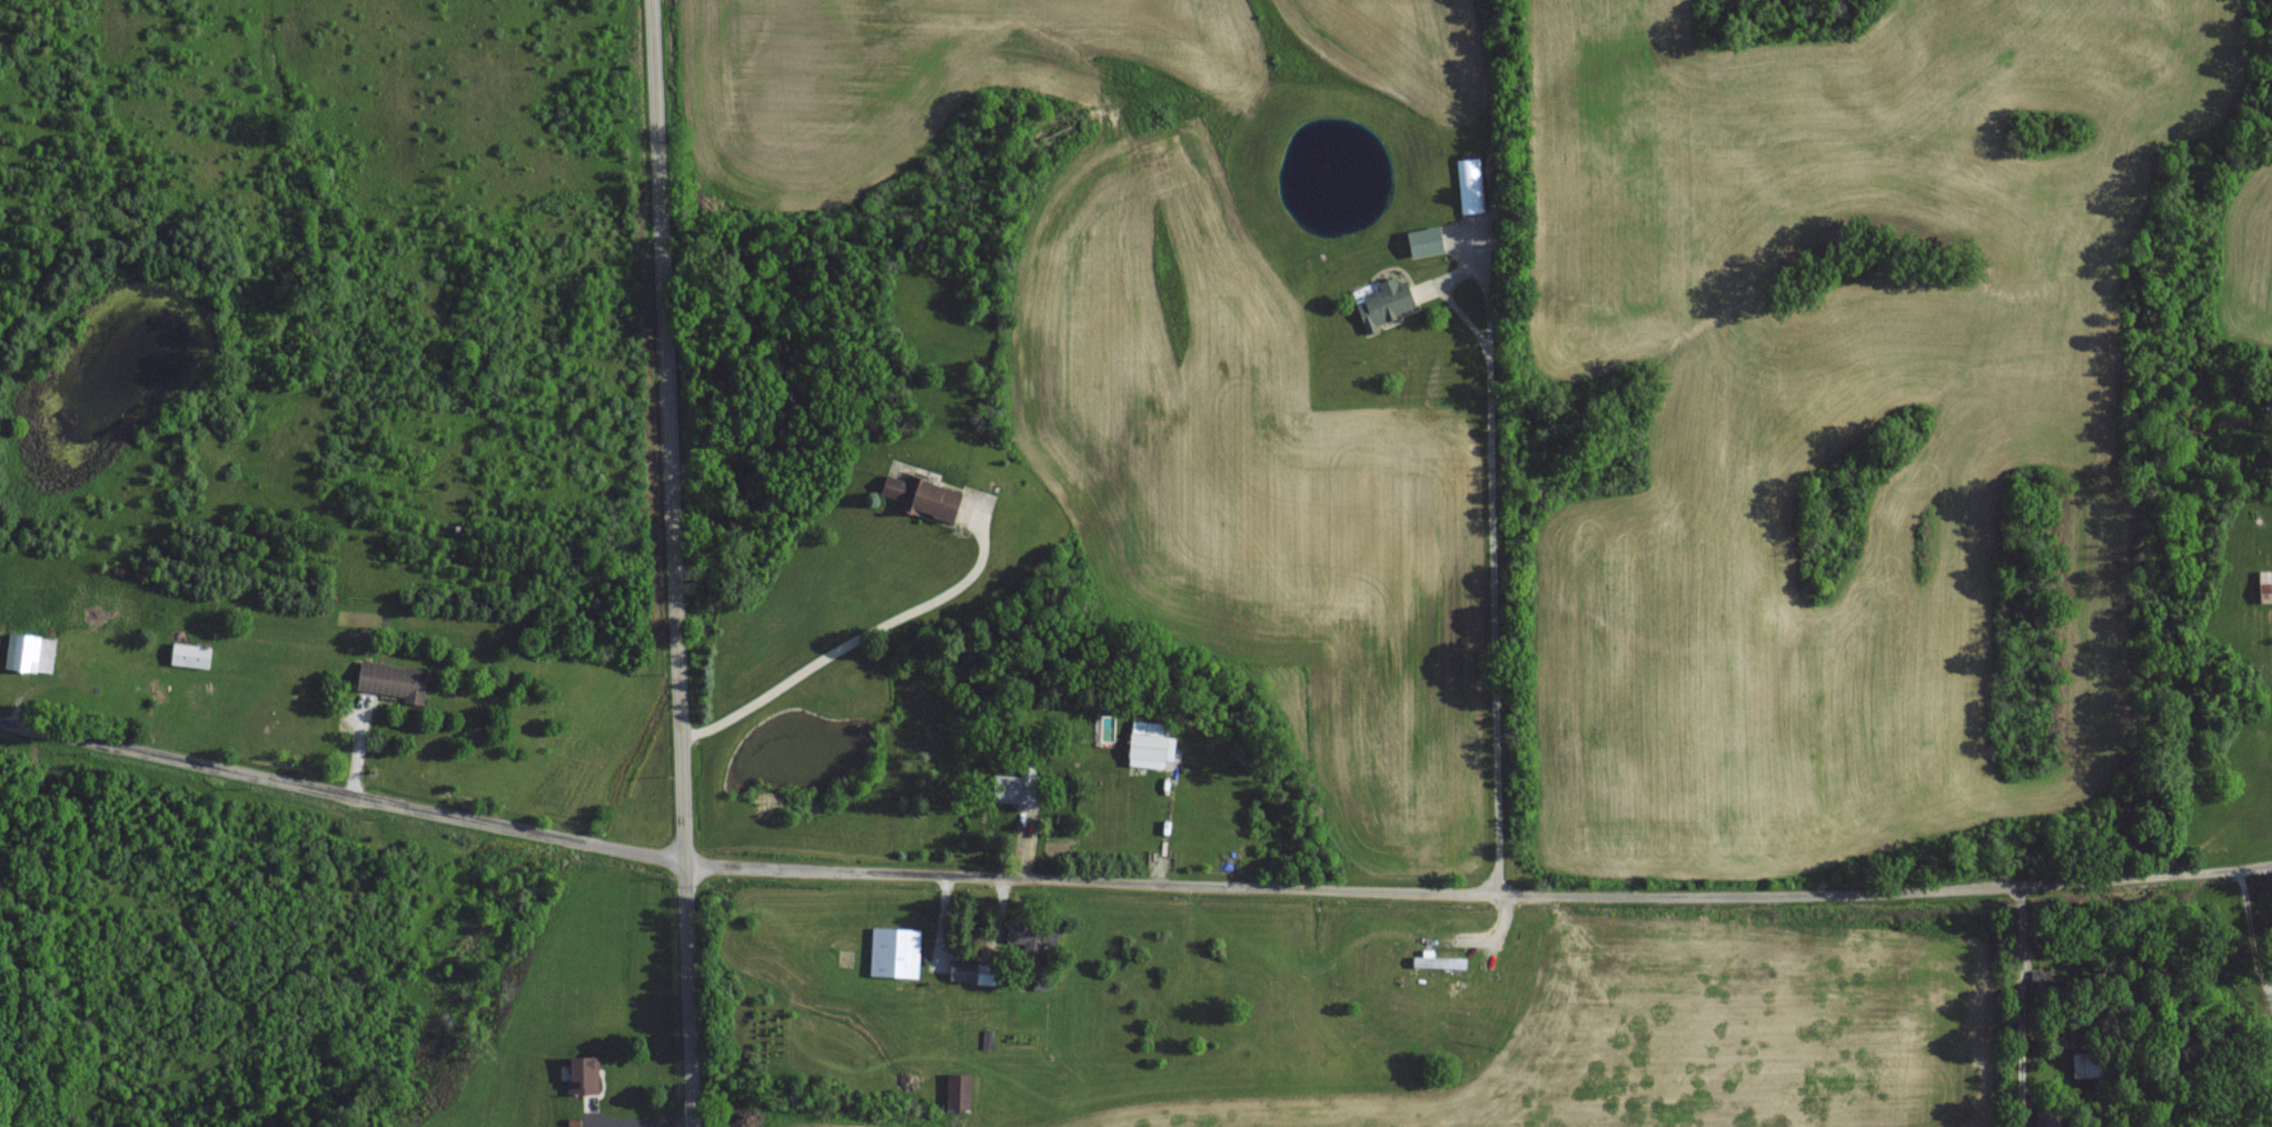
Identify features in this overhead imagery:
building: (1469, 184)
building: (1422, 241)
building: (1385, 302)
road: (674, 562)
building: (2264, 587)
road: (1490, 597)
road: (855, 639)
building: (26, 654)
building: (388, 681)
building: (1148, 745)
road: (1129, 881)
building: (893, 951)
road: (2018, 1005)
building: (2091, 1065)
building: (582, 1075)
building: (956, 1090)
building: (2048, 1117)

